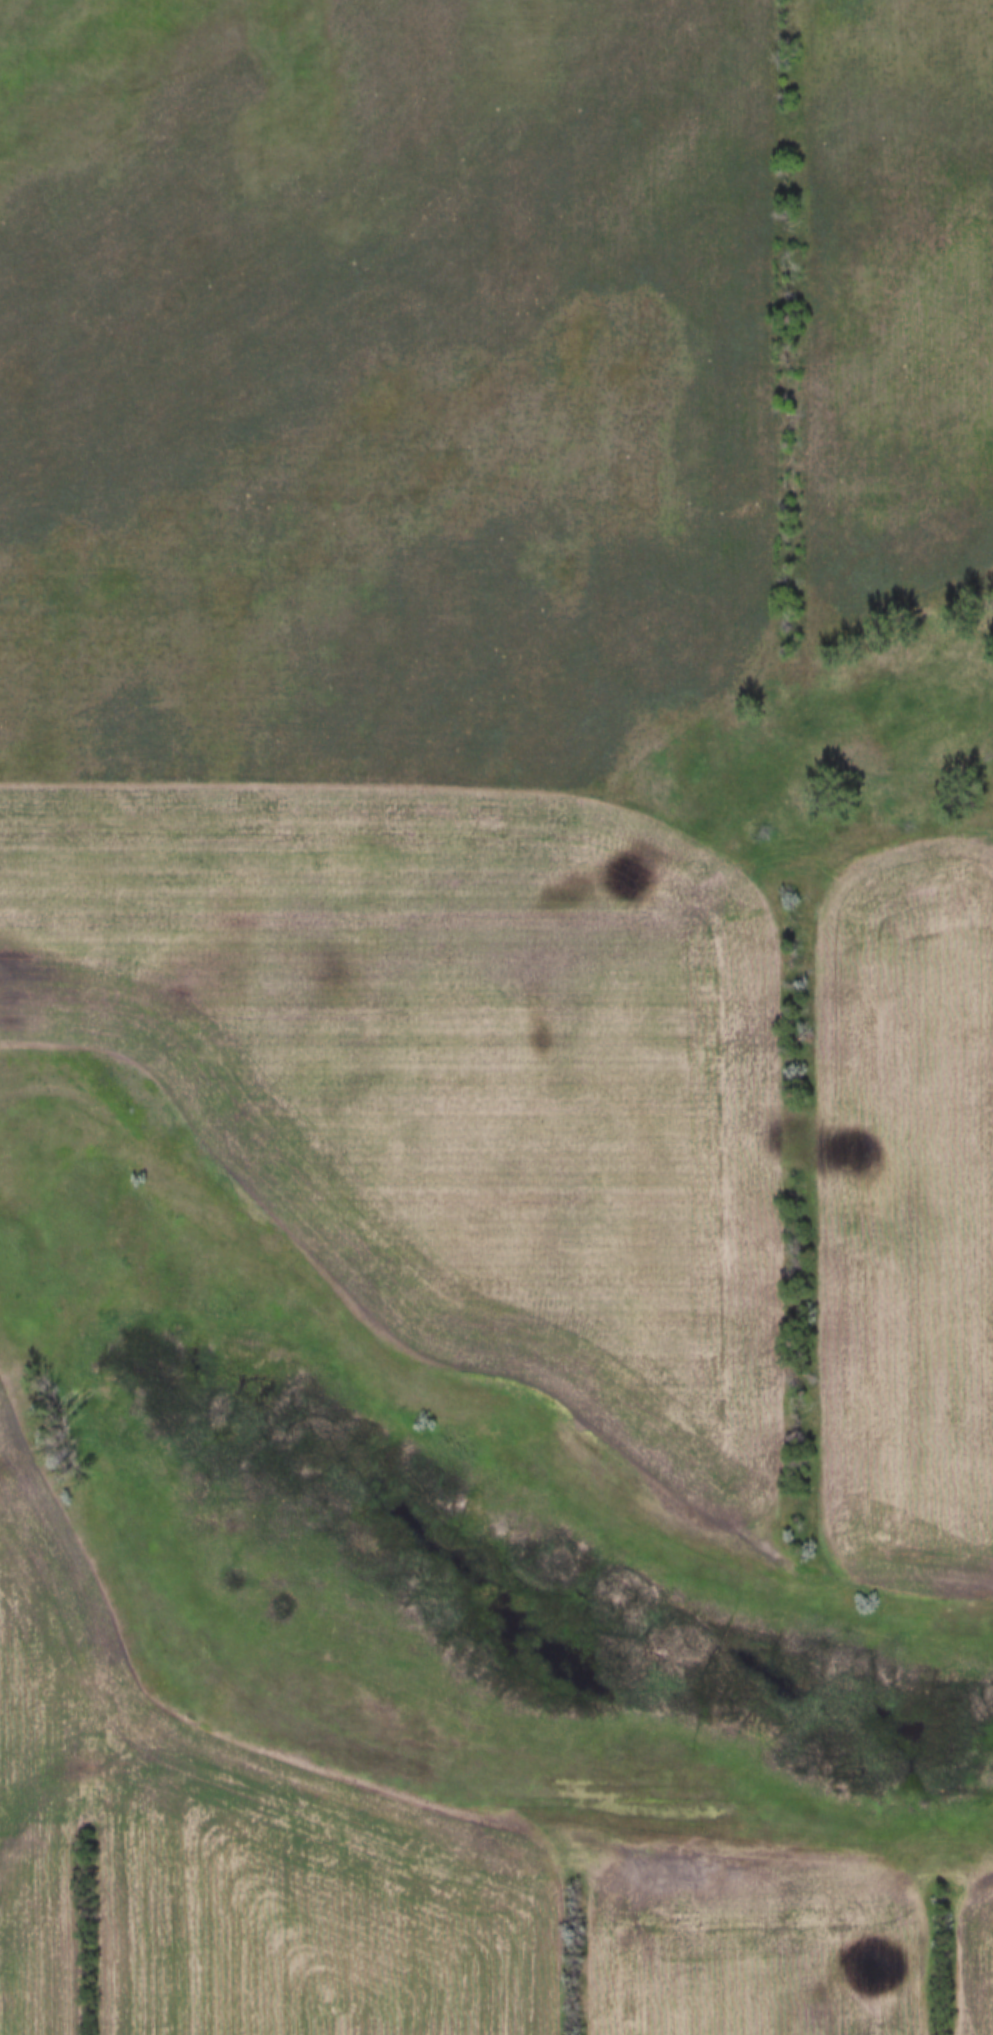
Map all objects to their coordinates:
road: (924, 721)

